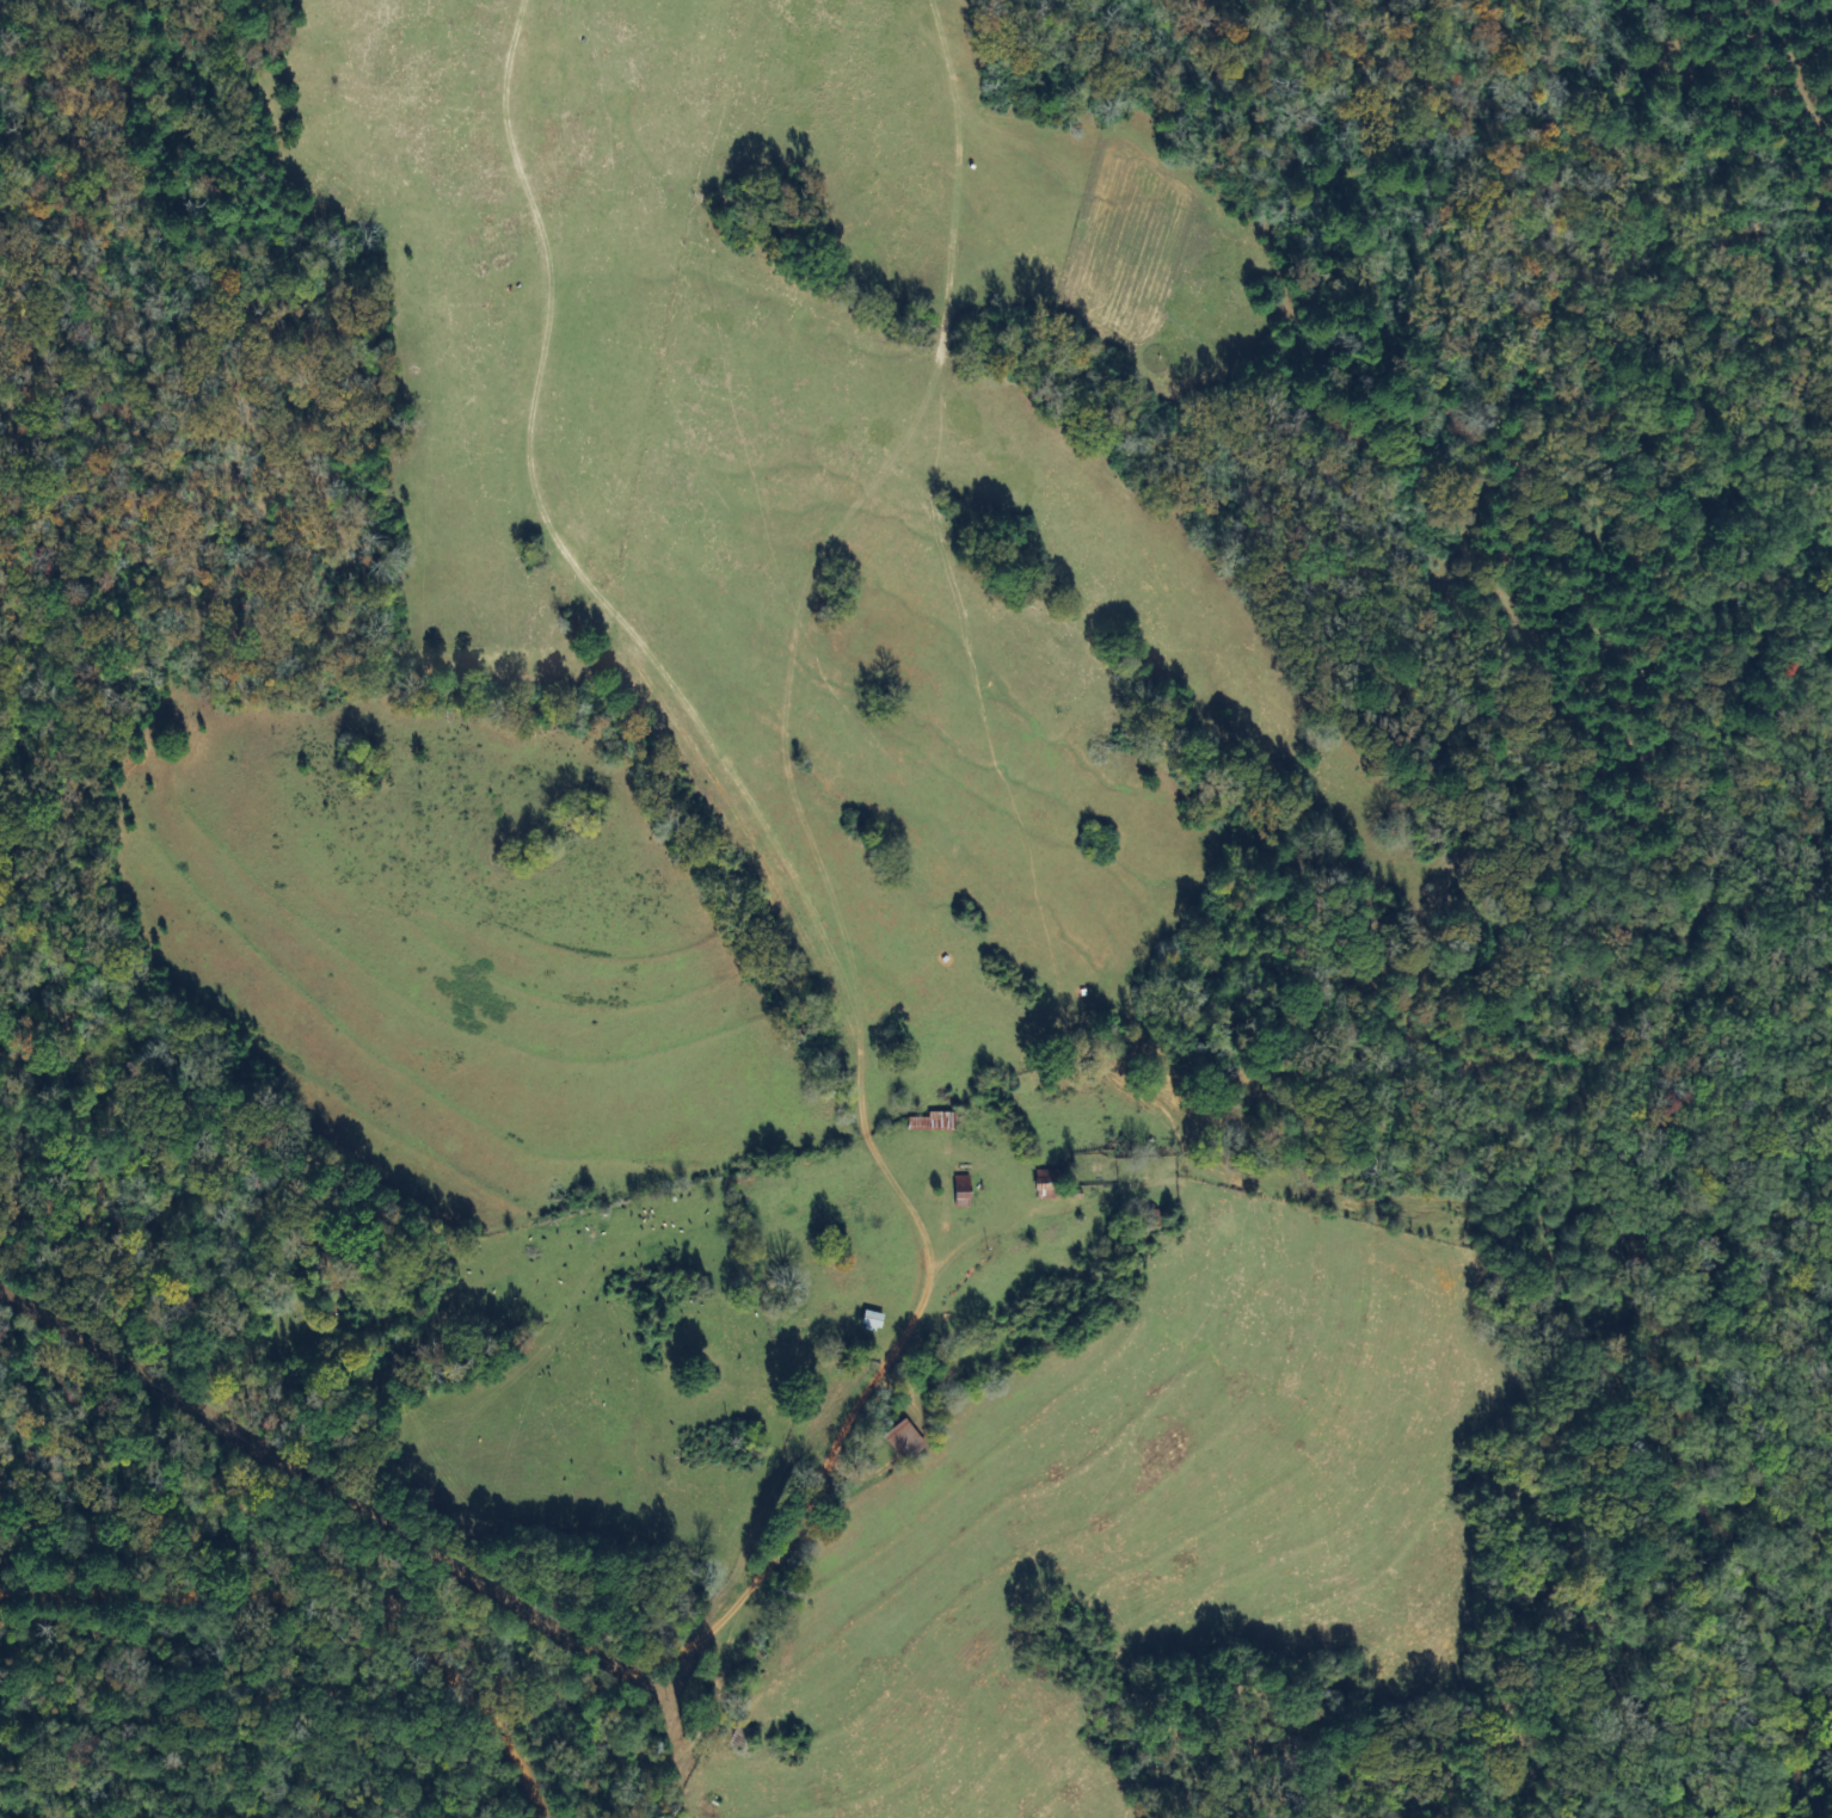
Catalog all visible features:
road: (69, 1394)
road: (763, 1541)
road: (311, 1609)
road: (580, 1685)
road: (525, 1762)

